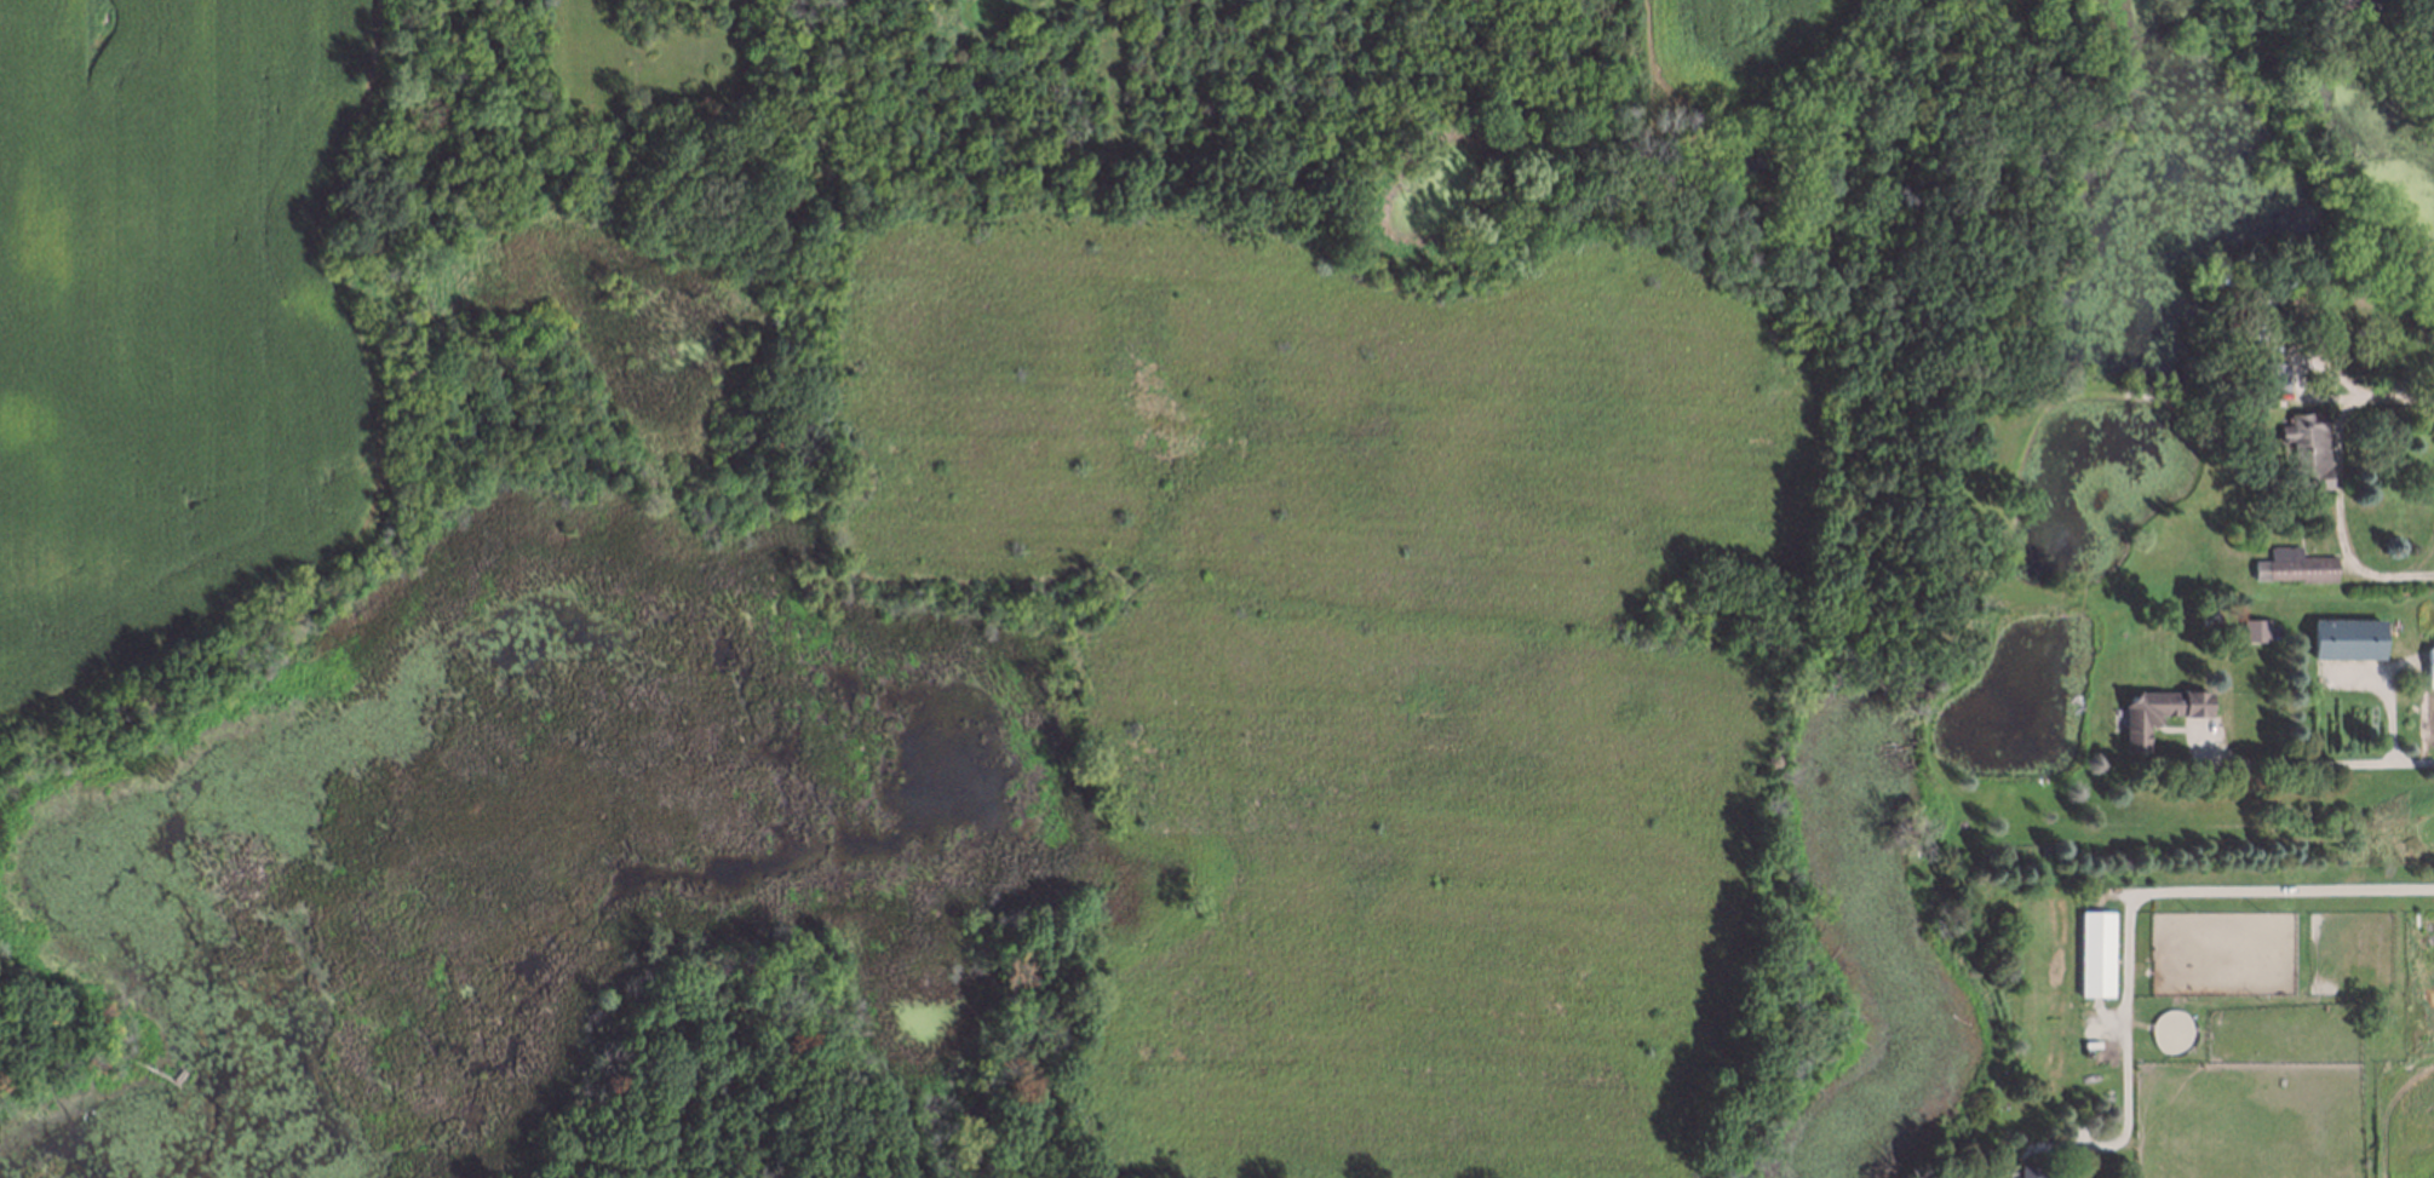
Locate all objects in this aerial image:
building: (2347, 5)
building: (2280, 378)
building: (2309, 450)
road: (2338, 482)
building: (2296, 567)
building: (2256, 631)
building: (2348, 642)
building: (2432, 670)
building: (2159, 714)
road: (2327, 760)
road: (2164, 887)
building: (2097, 955)
building: (2033, 1172)

